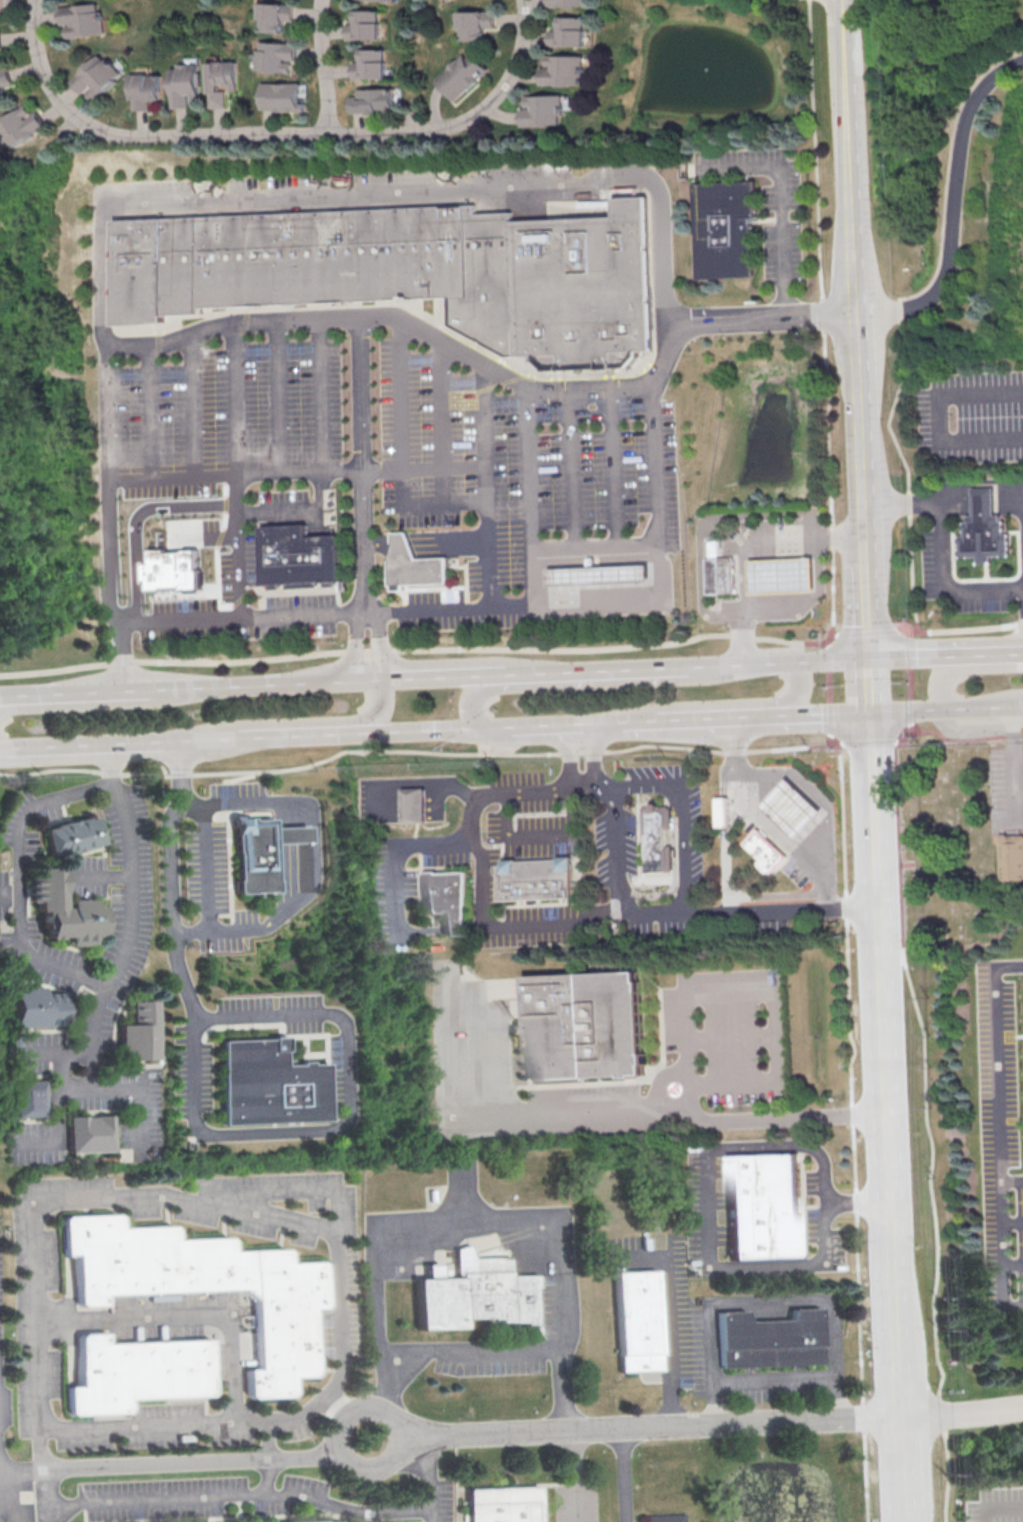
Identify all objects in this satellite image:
building: (388, 0)
building: (564, 2)
building: (267, 16)
building: (73, 20)
building: (474, 24)
building: (362, 25)
building: (567, 32)
building: (268, 55)
building: (367, 64)
road: (318, 66)
building: (560, 69)
building: (460, 73)
building: (87, 76)
building: (1, 78)
building: (210, 80)
building: (174, 83)
building: (136, 89)
building: (274, 96)
building: (367, 99)
building: (542, 109)
building: (14, 125)
road: (270, 134)
road: (850, 155)
road: (376, 196)
parking lot: (766, 203)
road: (778, 204)
road: (955, 205)
building: (727, 229)
building: (411, 273)
road: (43, 274)
road: (901, 317)
road: (822, 318)
road: (494, 376)
road: (979, 392)
road: (273, 396)
road: (185, 408)
road: (146, 414)
parking lot: (971, 414)
road: (316, 415)
road: (863, 422)
road: (438, 424)
road: (956, 439)
road: (399, 454)
road: (615, 465)
road: (360, 466)
road: (570, 467)
road: (234, 471)
road: (295, 471)
parking lot: (375, 471)
road: (483, 488)
road: (529, 500)
road: (902, 504)
road: (762, 511)
road: (278, 514)
road: (136, 517)
parking lot: (771, 525)
building: (987, 531)
road: (205, 537)
road: (938, 537)
road: (743, 541)
road: (595, 542)
parking lot: (931, 552)
building: (301, 558)
building: (414, 565)
building: (170, 568)
road: (711, 568)
building: (712, 568)
road: (699, 574)
building: (602, 575)
gas station: (602, 575)
building: (726, 576)
building: (783, 576)
gas station: (783, 576)
road: (871, 597)
road: (624, 603)
road: (810, 603)
road: (712, 604)
road: (115, 613)
road: (959, 629)
road: (866, 632)
road: (906, 632)
road: (827, 641)
road: (356, 645)
road: (379, 645)
road: (420, 648)
road: (1000, 654)
road: (124, 655)
road: (926, 657)
road: (832, 659)
traffic signals: (874, 659)
road: (766, 663)
road: (710, 667)
road: (586, 671)
road: (943, 673)
road: (437, 676)
road: (369, 679)
road: (909, 679)
road: (260, 684)
road: (874, 686)
road: (828, 688)
road: (797, 689)
road: (87, 691)
road: (6, 695)
road: (6, 699)
road: (470, 704)
road: (988, 706)
road: (378, 708)
road: (914, 710)
traffic signals: (875, 713)
road: (828, 714)
road: (719, 717)
road: (583, 724)
road: (1016, 724)
road: (503, 728)
road: (1011, 728)
traffic signals: (496, 729)
road: (907, 729)
road: (927, 729)
road: (427, 730)
road: (968, 732)
road: (302, 735)
road: (212, 741)
road: (903, 742)
road: (798, 744)
road: (830, 744)
road: (869, 744)
road: (90, 747)
road: (592, 755)
road: (567, 756)
road: (427, 780)
road: (722, 784)
parking lot: (1007, 785)
road: (581, 787)
road: (603, 787)
building: (974, 787)
road: (1012, 787)
parking lot: (239, 793)
road: (821, 799)
road: (377, 801)
building: (413, 804)
road: (755, 805)
building: (790, 805)
gas station: (790, 805)
road: (570, 810)
building: (723, 811)
road: (723, 811)
road: (468, 816)
road: (683, 817)
building: (294, 835)
road: (516, 836)
building: (76, 837)
building: (659, 838)
park: (946, 845)
road: (613, 848)
parking lot: (545, 850)
building: (765, 850)
road: (294, 851)
building: (257, 857)
building: (1010, 859)
road: (723, 869)
parking lot: (796, 873)
building: (536, 878)
road: (20, 880)
parking lot: (216, 891)
road: (392, 893)
road: (10, 895)
building: (447, 900)
road: (132, 904)
road: (748, 910)
building: (66, 911)
road: (550, 922)
road: (262, 928)
road: (192, 932)
road: (725, 988)
building: (36, 1010)
road: (337, 1016)
parking lot: (723, 1025)
building: (588, 1027)
building: (139, 1034)
road: (729, 1036)
road: (490, 1038)
road: (41, 1053)
road: (87, 1057)
road: (725, 1081)
building: (272, 1085)
road: (140, 1095)
building: (31, 1100)
road: (57, 1109)
road: (487, 1113)
road: (889, 1117)
road: (773, 1119)
road: (996, 1127)
road: (928, 1133)
building: (93, 1135)
parking lot: (1000, 1135)
road: (36, 1144)
road: (707, 1180)
road: (1010, 1180)
road: (464, 1189)
building: (766, 1207)
road: (281, 1216)
road: (1011, 1223)
road: (551, 1236)
road: (1012, 1264)
building: (207, 1285)
building: (475, 1293)
parking lot: (31, 1300)
road: (772, 1301)
road: (673, 1309)
parking lot: (551, 1310)
road: (184, 1316)
building: (641, 1322)
building: (773, 1341)
parking lot: (489, 1365)
building: (138, 1372)
road: (773, 1378)
road: (561, 1386)
road: (339, 1405)
road: (963, 1414)
road: (385, 1417)
road: (648, 1426)
road: (267, 1439)
road: (172, 1464)
road: (622, 1474)
road: (571, 1475)
road: (267, 1476)
road: (426, 1477)
road: (239, 1494)
road: (48, 1496)
building: (504, 1504)
road: (995, 1508)
building: (664, 1519)
building: (329, 1521)

